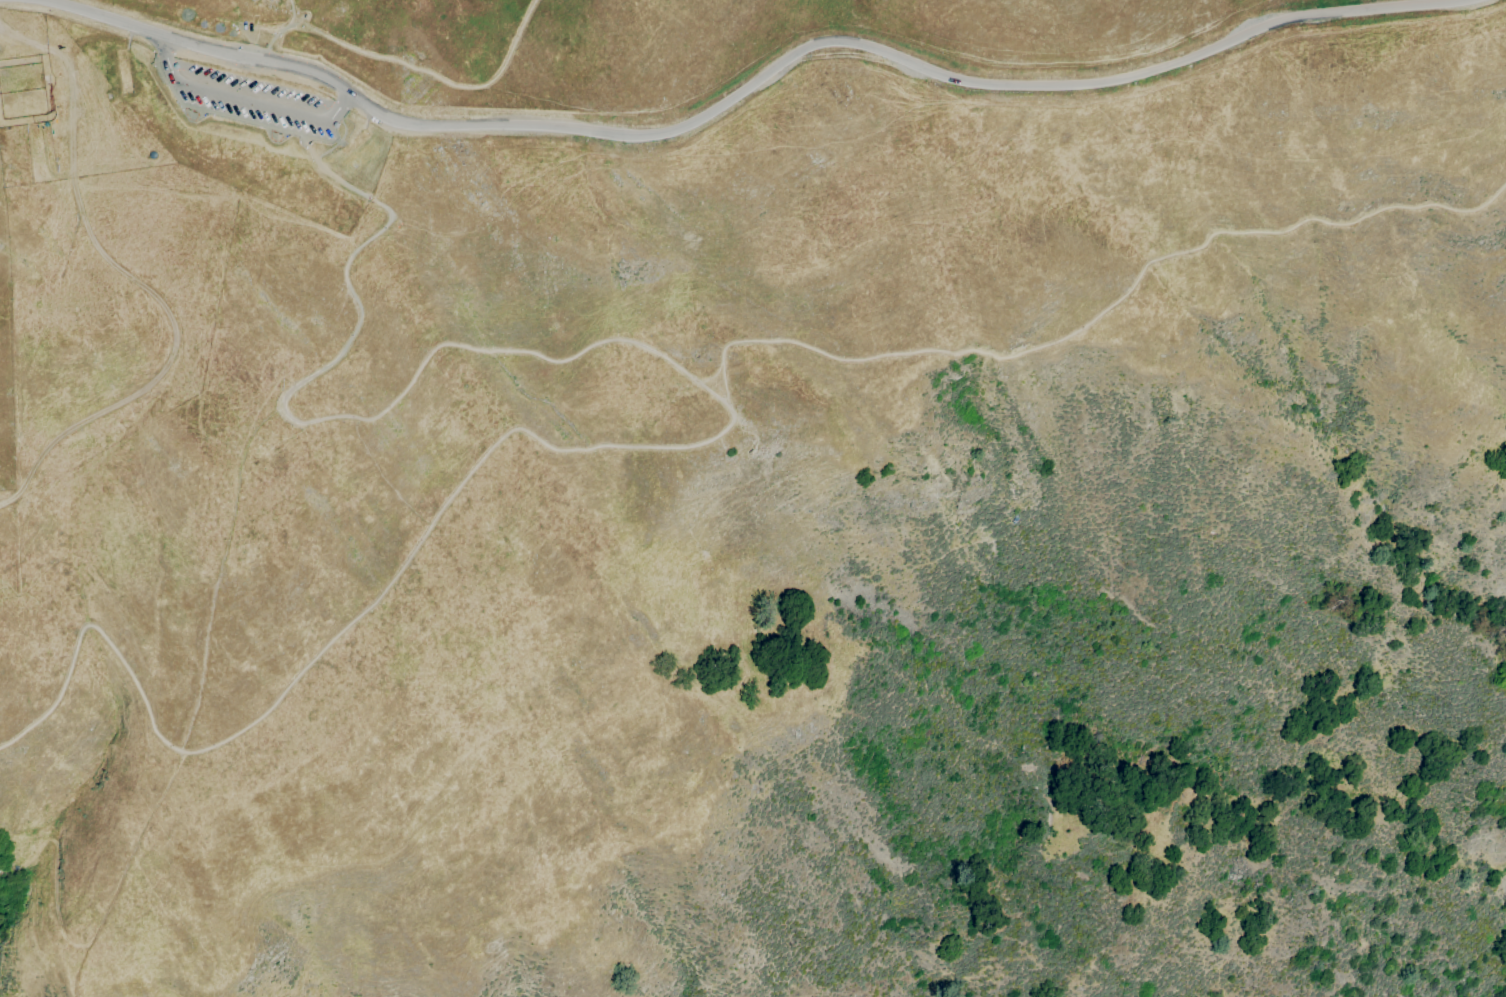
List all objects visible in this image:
road: (275, 30)
road: (514, 40)
road: (388, 54)
road: (752, 84)
parking lot: (255, 98)
road: (244, 99)
road: (147, 293)
road: (312, 419)
road: (686, 445)
park: (1282, 845)

